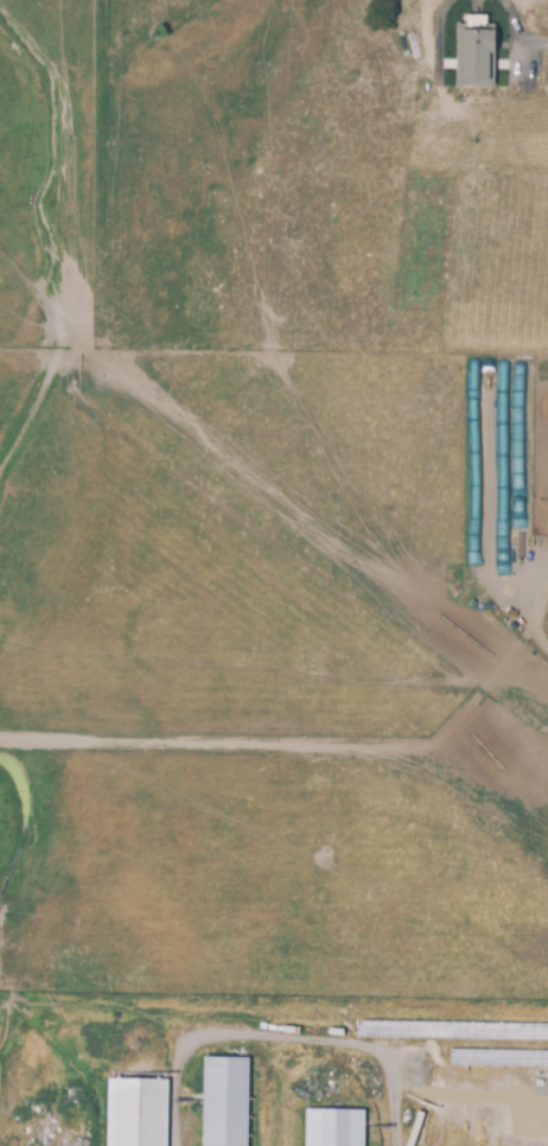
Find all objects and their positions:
road: (537, 42)
building: (472, 51)
road: (275, 1037)
building: (225, 1101)
building: (134, 1112)
building: (333, 1127)

